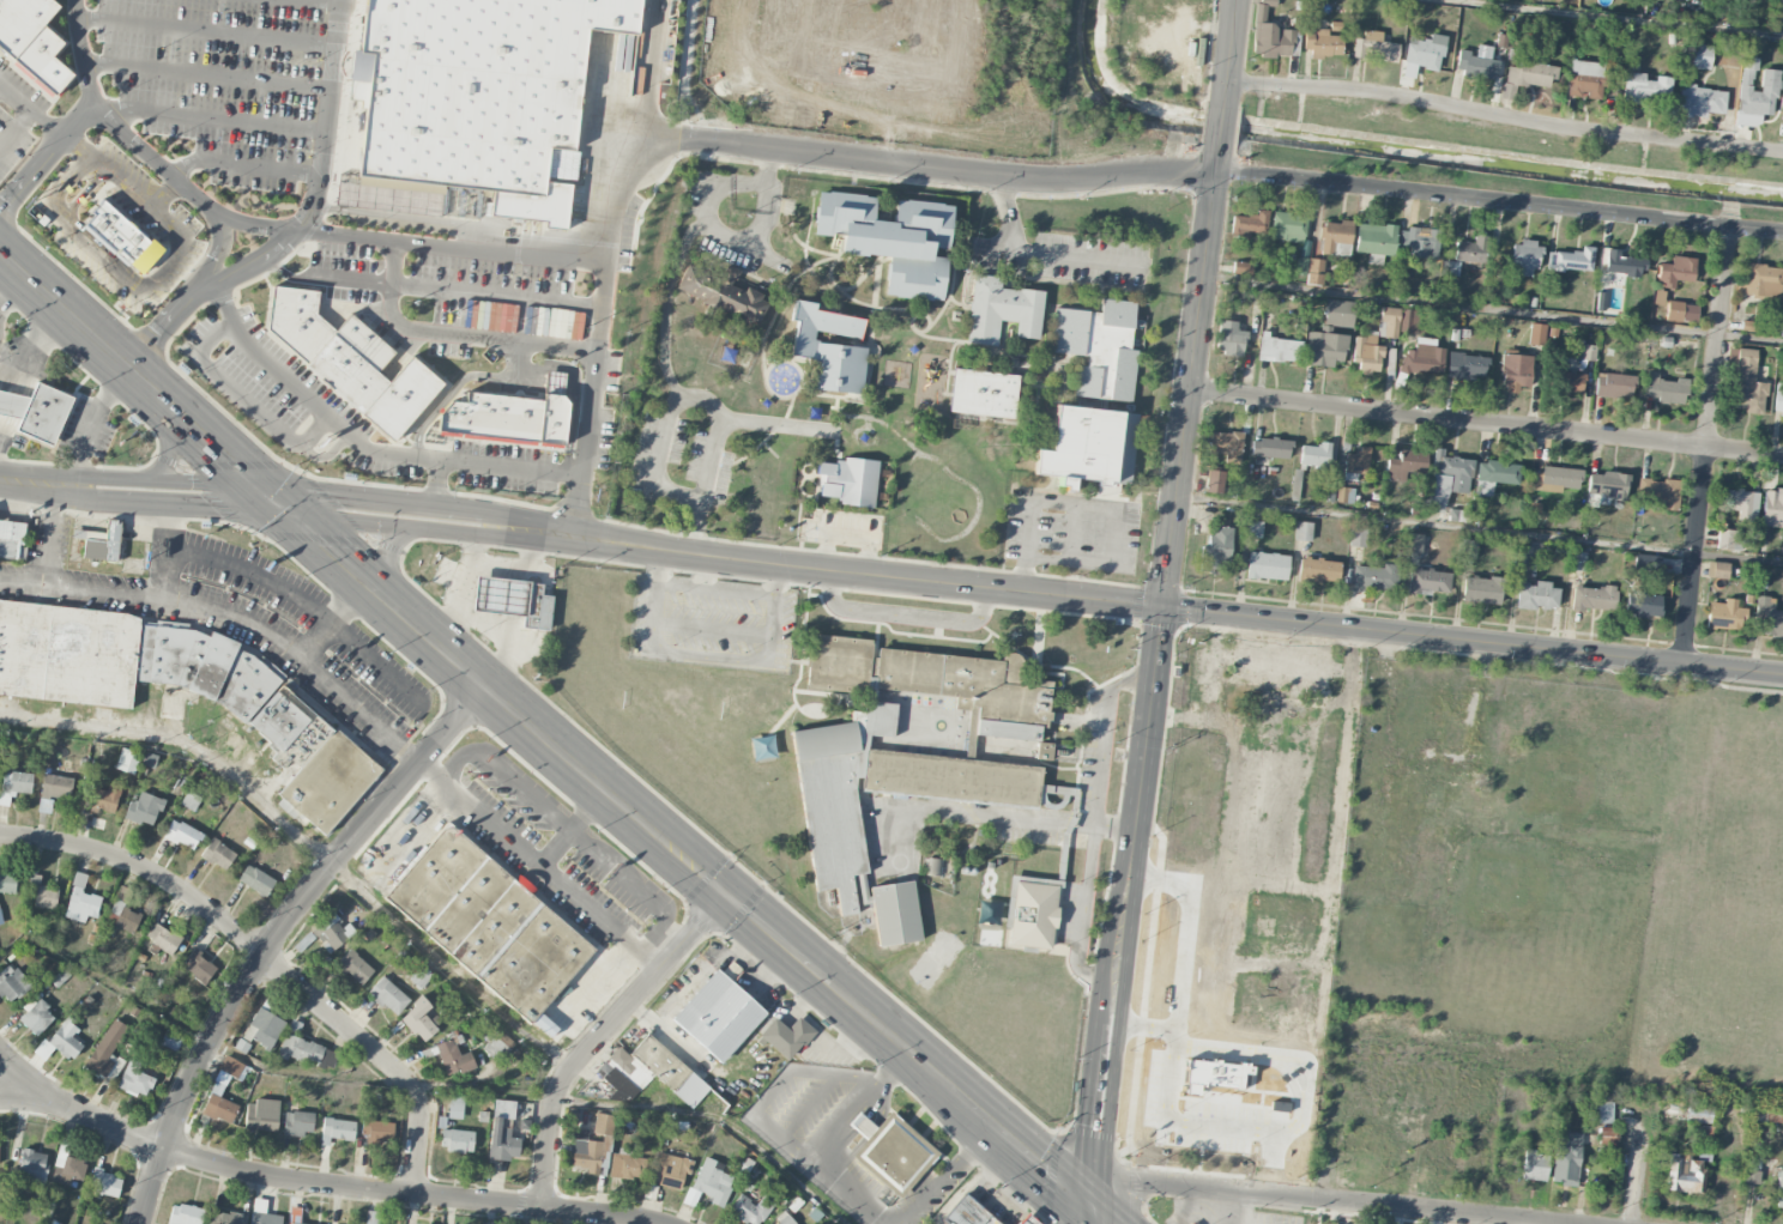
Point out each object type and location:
road: (328, 1)
road: (1619, 18)
road: (206, 31)
building: (1270, 35)
building: (32, 40)
building: (1323, 41)
building: (1374, 48)
building: (1425, 51)
road: (1223, 53)
building: (1700, 56)
building: (1727, 57)
building: (1476, 62)
building: (1530, 72)
road: (206, 74)
building: (1585, 80)
building: (477, 87)
building: (1646, 89)
building: (1755, 95)
building: (1700, 102)
road: (328, 104)
road: (31, 111)
road: (1501, 116)
road: (210, 119)
road: (1215, 125)
road: (115, 126)
road: (16, 131)
road: (85, 152)
road: (46, 157)
road: (244, 162)
road: (769, 162)
road: (1211, 171)
road: (624, 174)
road: (68, 186)
road: (167, 196)
road: (761, 205)
road: (773, 206)
building: (1250, 224)
building: (1288, 228)
road: (85, 230)
road: (313, 231)
building: (122, 237)
building: (1336, 238)
building: (891, 240)
road: (737, 241)
building: (1376, 242)
building: (1421, 242)
road: (217, 248)
building: (1471, 250)
road: (508, 252)
road: (270, 253)
road: (767, 255)
road: (1041, 255)
road: (951, 259)
road: (834, 260)
building: (1523, 260)
building: (1570, 260)
road: (677, 261)
parking lot: (1080, 262)
building: (1622, 265)
road: (812, 266)
building: (1301, 266)
road: (870, 268)
building: (1243, 268)
building: (1316, 272)
building: (1675, 272)
road: (815, 279)
road: (393, 280)
road: (859, 280)
building: (1449, 280)
building: (1761, 281)
road: (133, 286)
road: (951, 286)
road: (12, 291)
building: (723, 295)
road: (497, 296)
road: (874, 301)
road: (957, 303)
road: (877, 307)
road: (1491, 308)
building: (1002, 310)
building: (1681, 311)
road: (168, 320)
building: (297, 320)
road: (929, 321)
building: (1409, 321)
road: (732, 325)
building: (1748, 326)
building: (1331, 334)
building: (1536, 334)
road: (494, 337)
road: (757, 339)
road: (941, 339)
building: (1229, 339)
building: (1376, 341)
building: (829, 349)
building: (1099, 349)
building: (1280, 350)
building: (1588, 352)
building: (1424, 357)
building: (351, 364)
road: (948, 365)
building: (1467, 366)
building: (1516, 372)
road: (1187, 374)
road: (138, 376)
building: (1746, 381)
building: (1571, 382)
building: (1614, 386)
building: (1664, 389)
road: (822, 394)
road: (947, 394)
building: (984, 394)
road: (244, 398)
road: (309, 399)
building: (401, 399)
building: (1778, 399)
building: (37, 412)
building: (492, 418)
road: (838, 418)
road: (665, 423)
road: (1483, 423)
road: (90, 424)
road: (778, 424)
road: (585, 442)
road: (761, 443)
building: (1226, 446)
road: (1708, 446)
building: (1089, 447)
building: (1268, 450)
building: (1314, 456)
road: (163, 460)
building: (1358, 461)
parking lot: (678, 462)
building: (1406, 465)
road: (510, 468)
road: (812, 471)
road: (815, 474)
building: (1494, 475)
building: (1447, 479)
building: (1557, 479)
building: (850, 480)
building: (1213, 481)
road: (28, 483)
building: (1295, 483)
road: (59, 486)
road: (81, 487)
road: (437, 489)
building: (1606, 489)
road: (134, 491)
building: (1658, 493)
road: (977, 495)
building: (1344, 495)
road: (222, 496)
traffic signals: (277, 499)
road: (814, 502)
building: (1742, 504)
road: (356, 508)
road: (1100, 508)
road: (448, 519)
road: (470, 522)
road: (822, 528)
building: (1252, 528)
road: (1477, 529)
parking lot: (844, 531)
building: (1303, 531)
parking lot: (1071, 532)
road: (52, 535)
road: (847, 537)
building: (1358, 537)
road: (394, 539)
building: (12, 540)
building: (1728, 540)
building: (99, 543)
road: (472, 543)
building: (1413, 543)
building: (1468, 549)
building: (1215, 551)
building: (1522, 555)
building: (1576, 561)
building: (1646, 563)
building: (1267, 565)
road: (820, 568)
road: (514, 569)
building: (1318, 570)
building: (1717, 570)
road: (253, 572)
road: (519, 575)
building: (1373, 577)
building: (1428, 581)
road: (459, 582)
road: (81, 588)
road: (715, 590)
building: (1481, 590)
building: (1537, 596)
road: (514, 598)
building: (1594, 598)
road: (191, 599)
building: (514, 600)
building: (1643, 605)
traffic signals: (1162, 607)
building: (1724, 614)
road: (905, 616)
building: (1767, 618)
parking lot: (711, 622)
road: (446, 624)
road: (712, 625)
road: (509, 626)
road: (503, 635)
road: (1471, 642)
road: (707, 659)
road: (1283, 662)
parking lot: (1258, 666)
road: (326, 674)
road: (1211, 696)
building: (1287, 707)
building: (292, 729)
building: (1264, 741)
building: (1044, 751)
road: (1096, 751)
parking lot: (1095, 752)
building: (126, 761)
road: (449, 765)
road: (429, 771)
building: (915, 778)
building: (16, 783)
building: (54, 790)
building: (105, 799)
building: (191, 801)
building: (144, 810)
road: (569, 828)
building: (182, 835)
road: (307, 844)
building: (218, 854)
road: (681, 856)
building: (932, 867)
building: (256, 880)
road: (1229, 880)
building: (7, 883)
building: (43, 893)
traffic signals: (725, 895)
building: (80, 901)
road: (1125, 907)
building: (1030, 911)
building: (894, 914)
road: (1082, 916)
building: (0, 919)
building: (1196, 919)
building: (127, 920)
building: (488, 923)
building: (1264, 928)
building: (332, 932)
road: (277, 934)
road: (652, 935)
building: (163, 939)
road: (1324, 941)
road: (266, 958)
road: (1245, 963)
building: (199, 967)
building: (355, 967)
building: (731, 971)
building: (421, 976)
building: (12, 983)
building: (388, 995)
road: (1210, 1005)
building: (35, 1016)
building: (718, 1016)
building: (419, 1020)
parking lot: (1174, 1023)
building: (264, 1028)
road: (600, 1036)
building: (786, 1037)
building: (66, 1040)
building: (170, 1040)
building: (496, 1042)
road: (1156, 1047)
building: (108, 1052)
building: (308, 1052)
building: (453, 1058)
building: (230, 1066)
building: (649, 1072)
road: (25, 1075)
building: (135, 1081)
road: (427, 1086)
road: (760, 1103)
building: (218, 1104)
building: (1225, 1104)
building: (455, 1107)
building: (1604, 1113)
building: (1699, 1113)
building: (261, 1115)
building: (298, 1123)
building: (603, 1125)
building: (337, 1131)
building: (377, 1131)
building: (502, 1132)
building: (1608, 1138)
building: (457, 1140)
parking lot: (1287, 1146)
building: (891, 1149)
road: (1285, 1158)
building: (1566, 1158)
building: (32, 1164)
building: (1535, 1165)
building: (627, 1167)
building: (67, 1169)
building: (670, 1170)
building: (1752, 1170)
road: (947, 1174)
building: (1682, 1174)
building: (105, 1182)
road: (324, 1183)
building: (709, 1183)
road: (1633, 1184)
building: (1779, 1190)
road: (1313, 1198)
traffic signals: (1093, 1207)
building: (750, 1210)
building: (262, 1213)
building: (967, 1213)
building: (185, 1214)
road: (1090, 1216)
road: (1101, 1216)
building: (373, 1217)
building: (223, 1218)
building: (785, 1220)
building: (1027, 1220)

